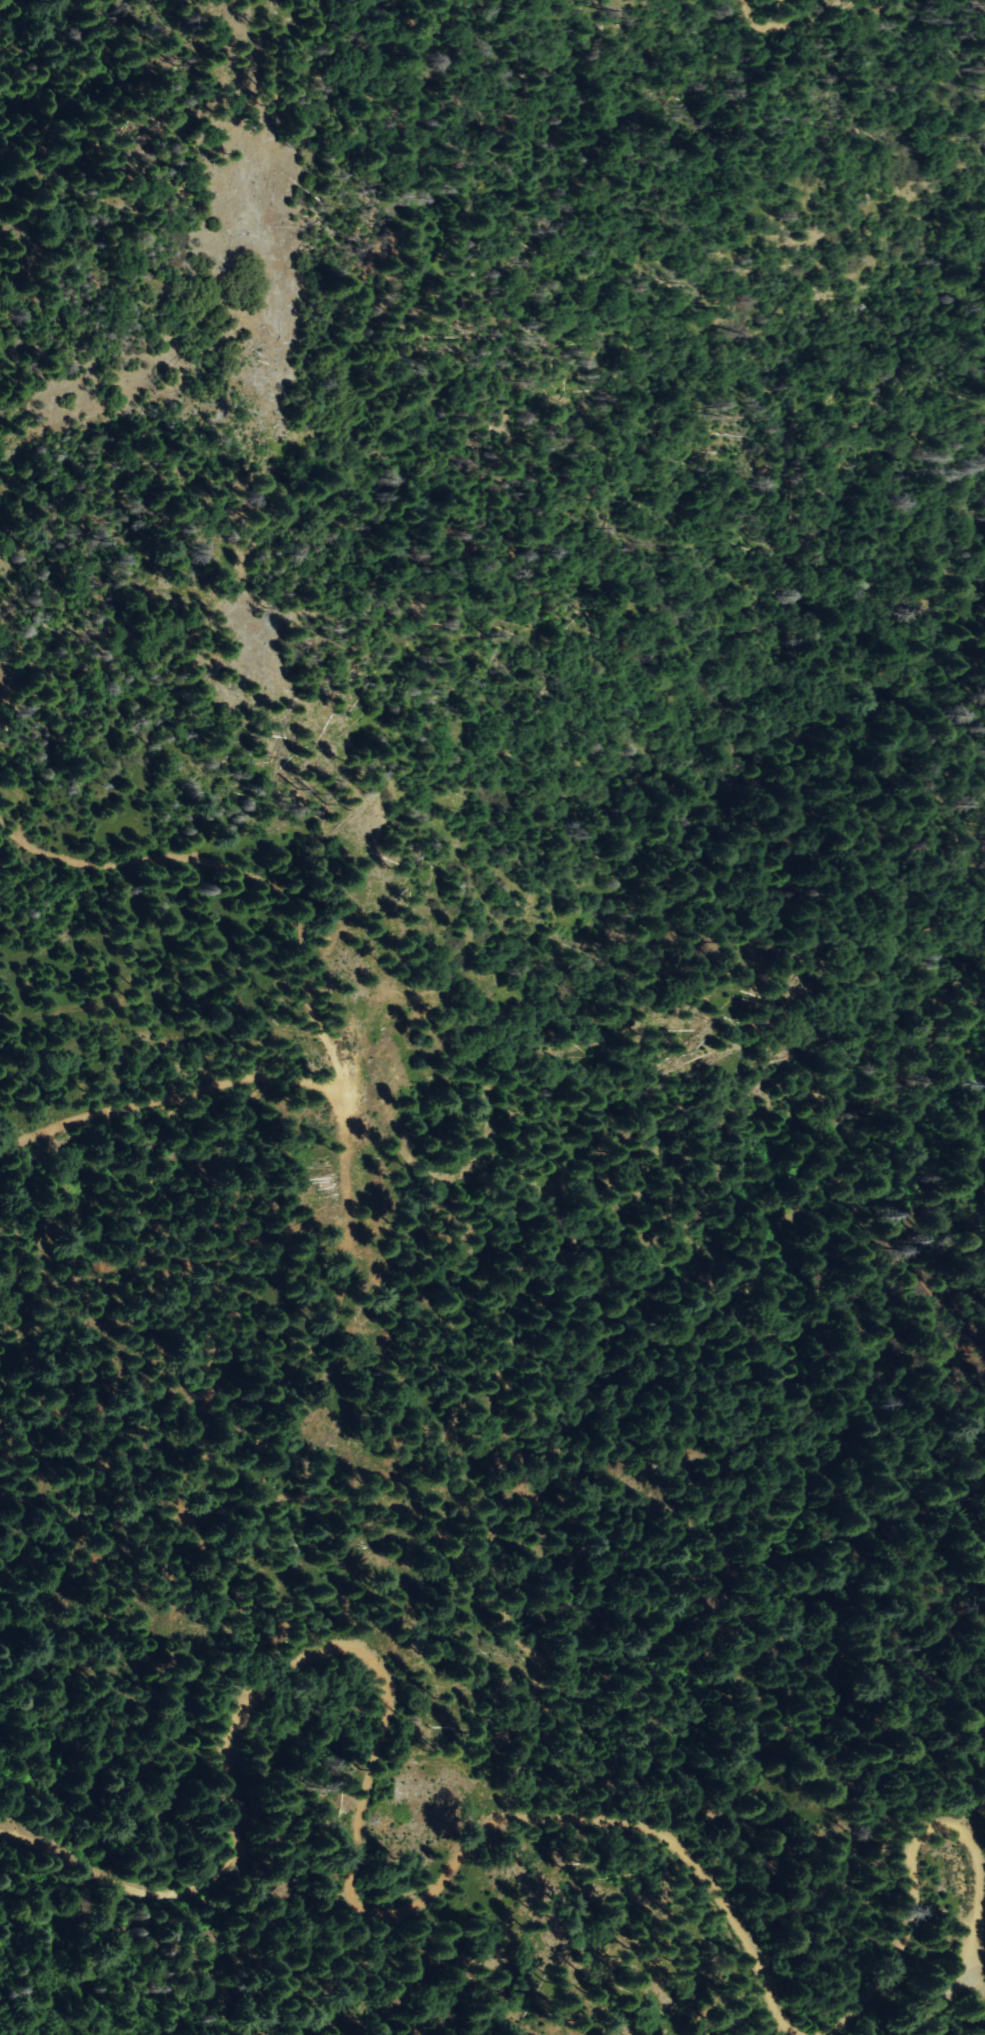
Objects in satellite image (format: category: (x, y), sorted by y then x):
road: (812, 12)
road: (157, 240)
road: (456, 1616)

